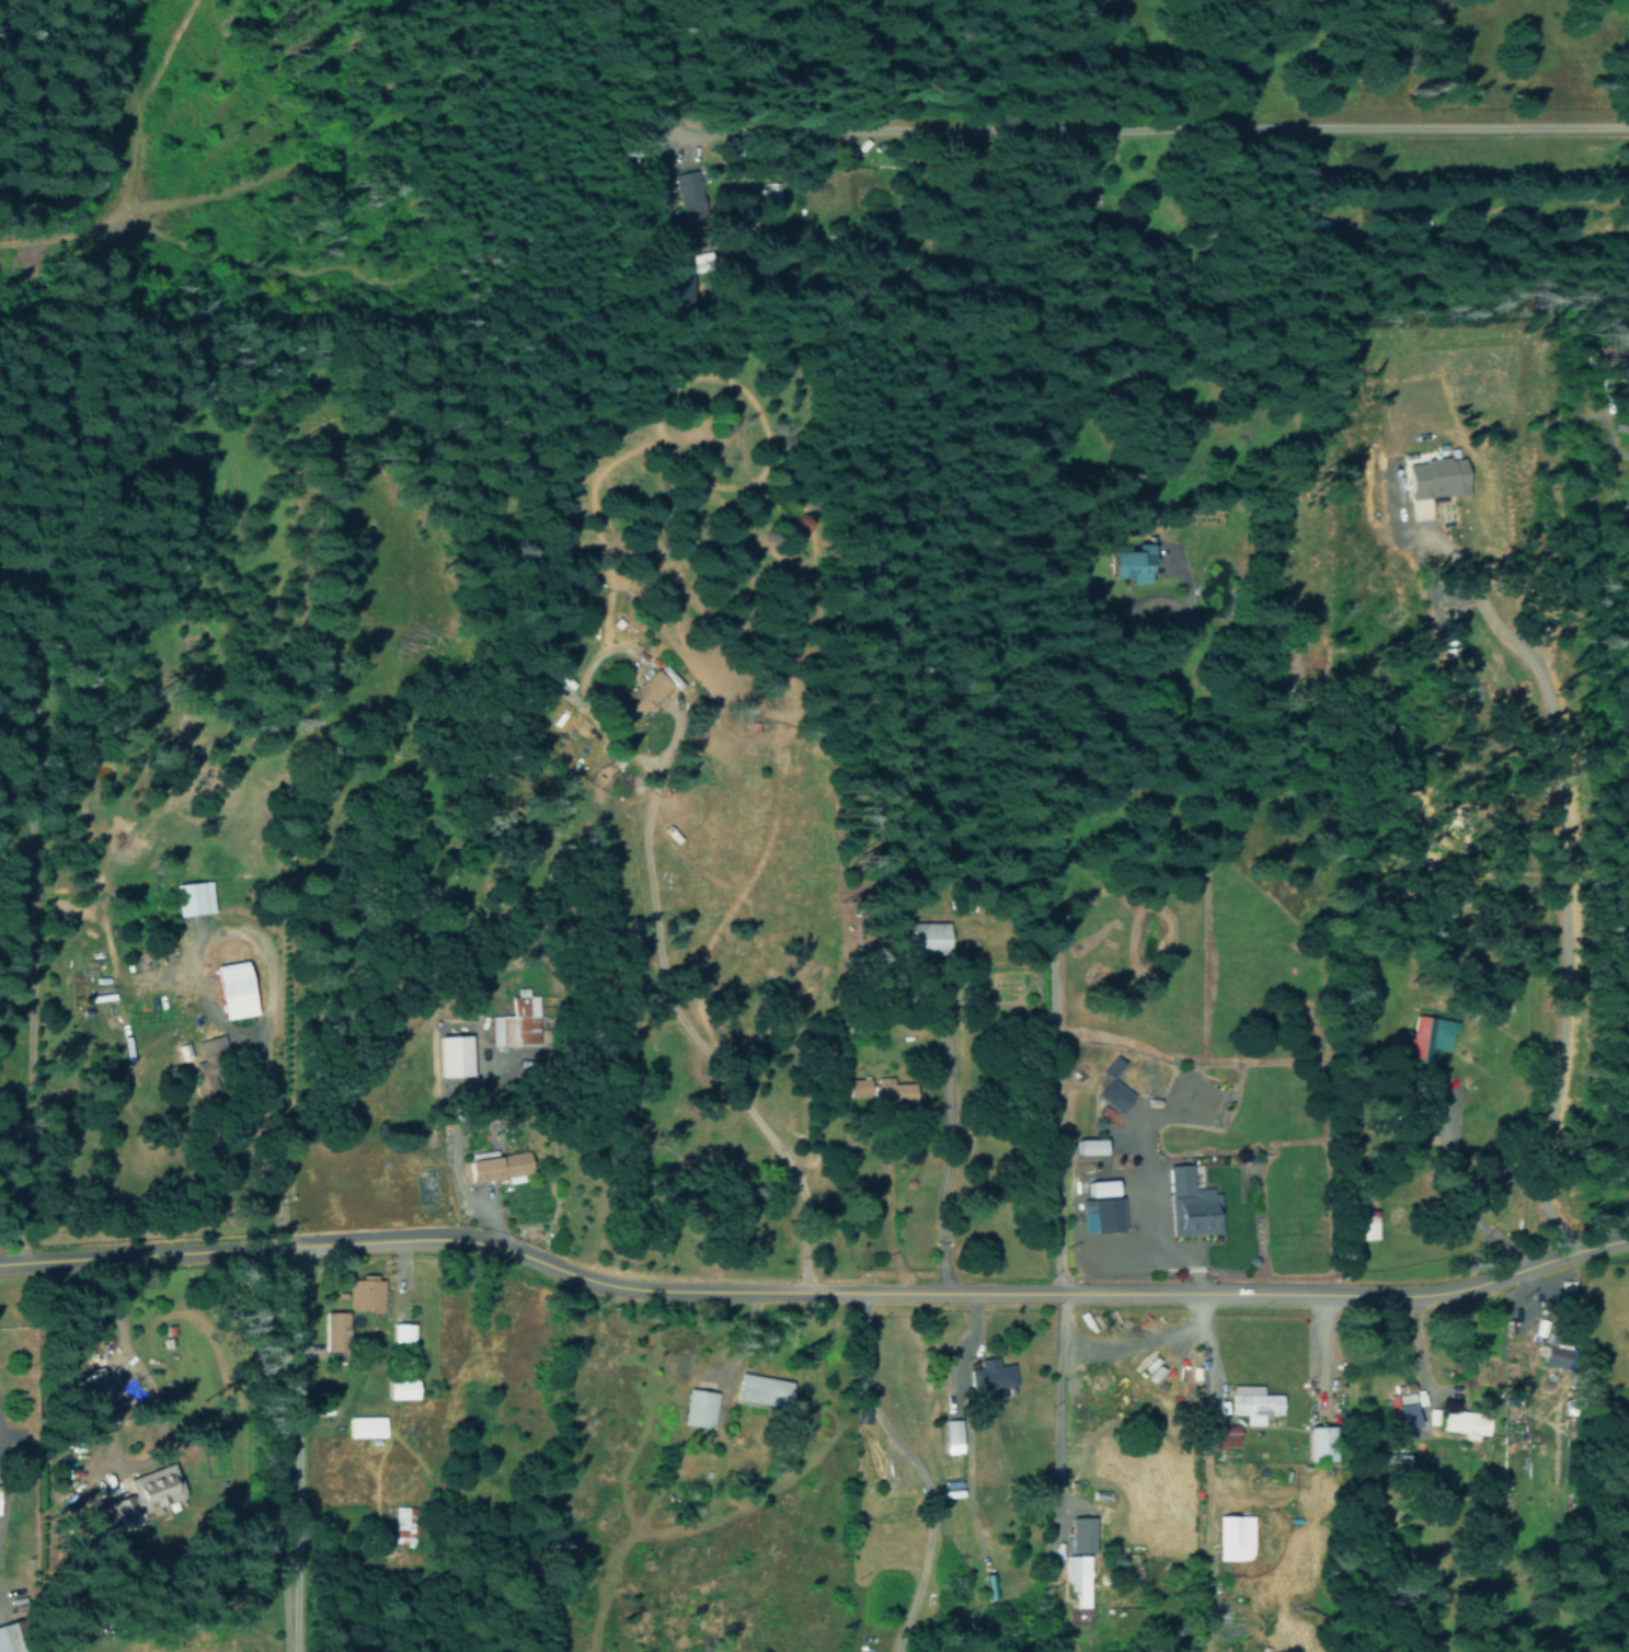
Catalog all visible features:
road: (1234, 130)
building: (687, 194)
building: (701, 262)
building: (1435, 478)
building: (1627, 507)
building: (1129, 563)
building: (670, 676)
building: (643, 693)
road: (64, 894)
building: (191, 896)
building: (926, 937)
building: (231, 989)
building: (516, 1021)
building: (1427, 1035)
building: (211, 1045)
building: (182, 1051)
building: (451, 1055)
road: (707, 1063)
building: (1113, 1087)
building: (883, 1090)
building: (1087, 1146)
building: (495, 1166)
building: (1100, 1188)
building: (1191, 1205)
building: (1100, 1214)
building: (1365, 1224)
road: (812, 1292)
building: (365, 1293)
building: (334, 1331)
building: (401, 1332)
building: (1553, 1353)
building: (990, 1374)
building: (89, 1388)
building: (400, 1389)
building: (761, 1389)
building: (1252, 1403)
building: (1401, 1404)
building: (699, 1408)
building: (1464, 1422)
building: (364, 1426)
building: (952, 1435)
building: (1224, 1435)
building: (1318, 1443)
road: (292, 1453)
building: (153, 1487)
building: (405, 1525)
building: (1080, 1534)
building: (1234, 1537)

